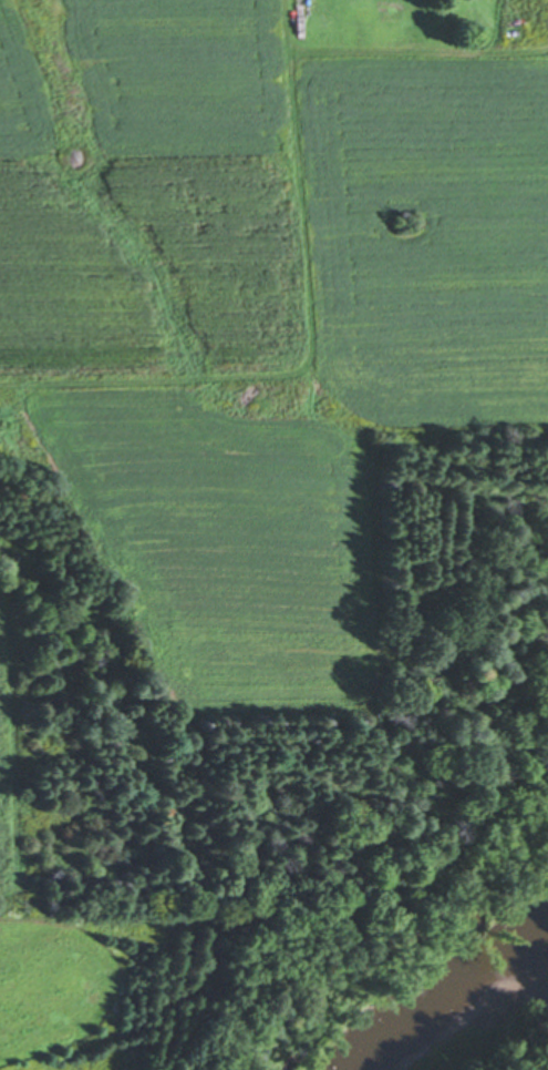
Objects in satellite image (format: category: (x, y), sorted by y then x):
river: (490, 1021)

